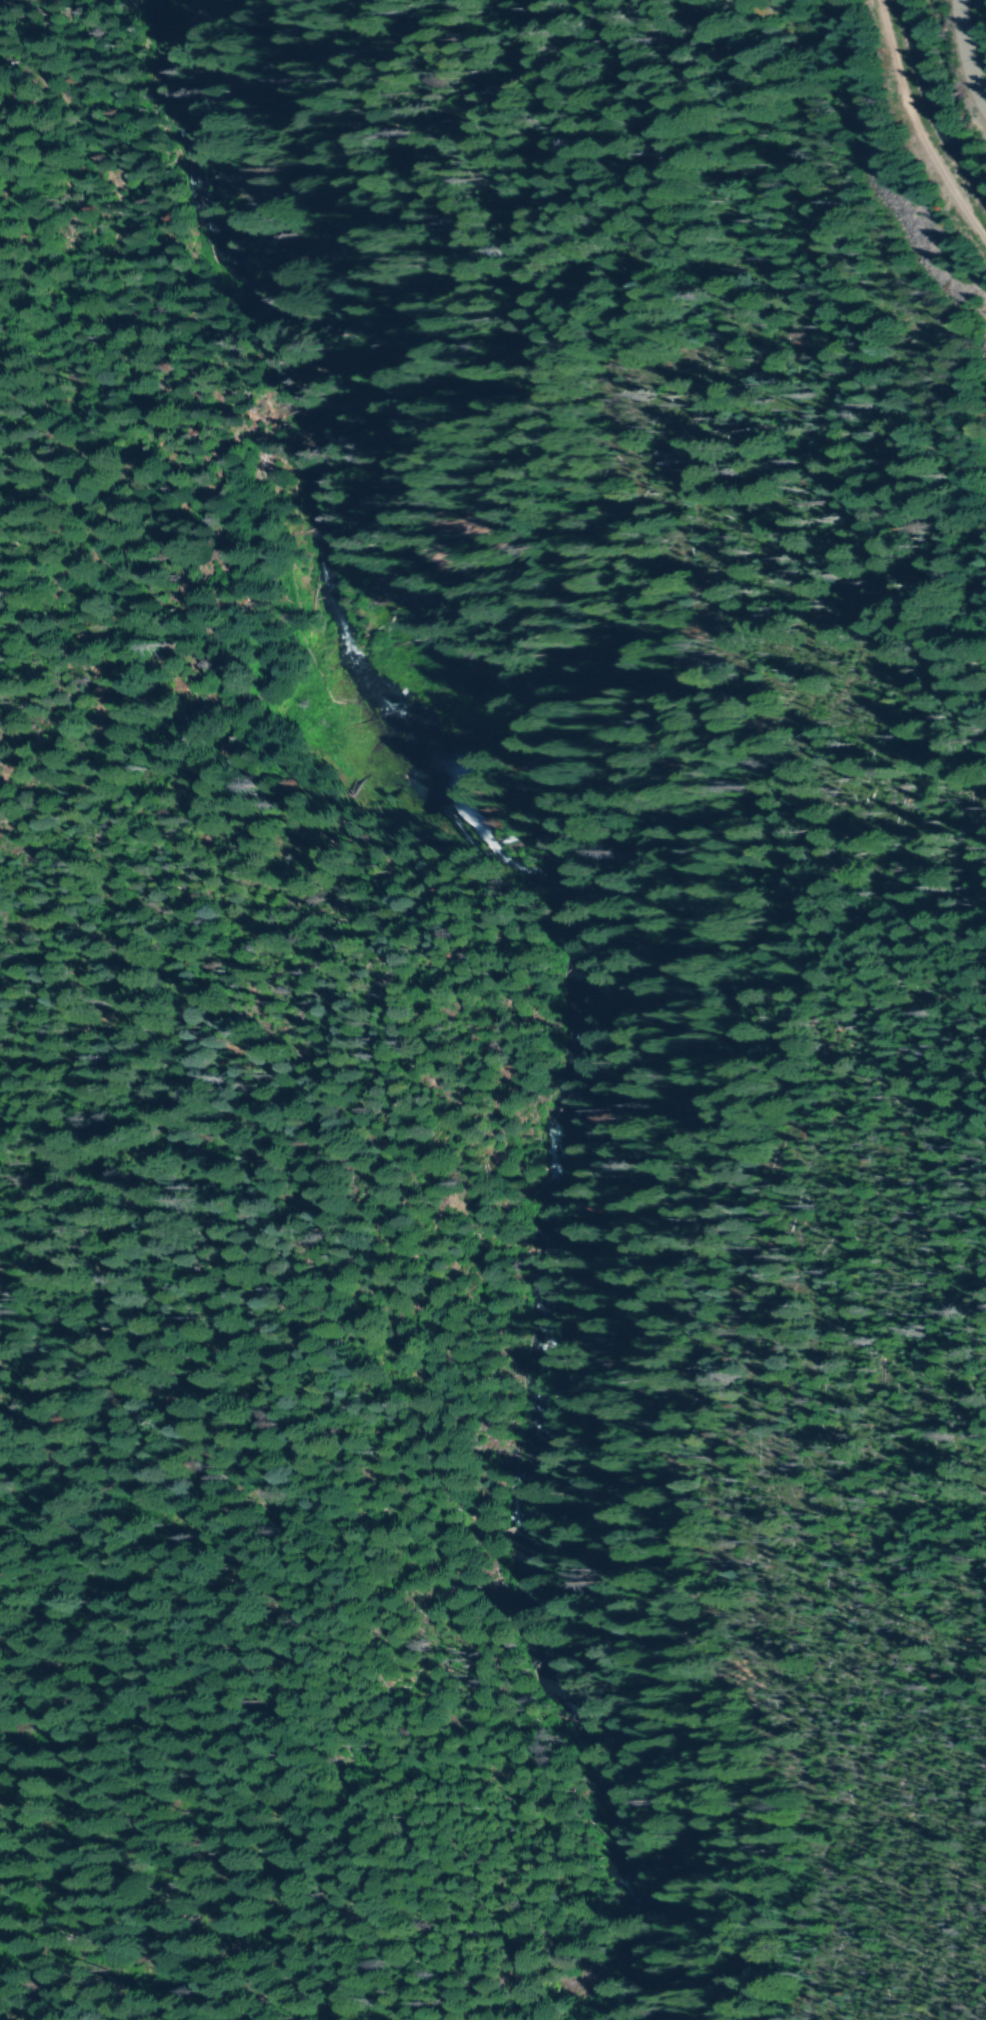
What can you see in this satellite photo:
road: (967, 54)
road: (918, 125)
road: (203, 332)
road: (208, 871)
river: (570, 963)
road: (605, 993)

